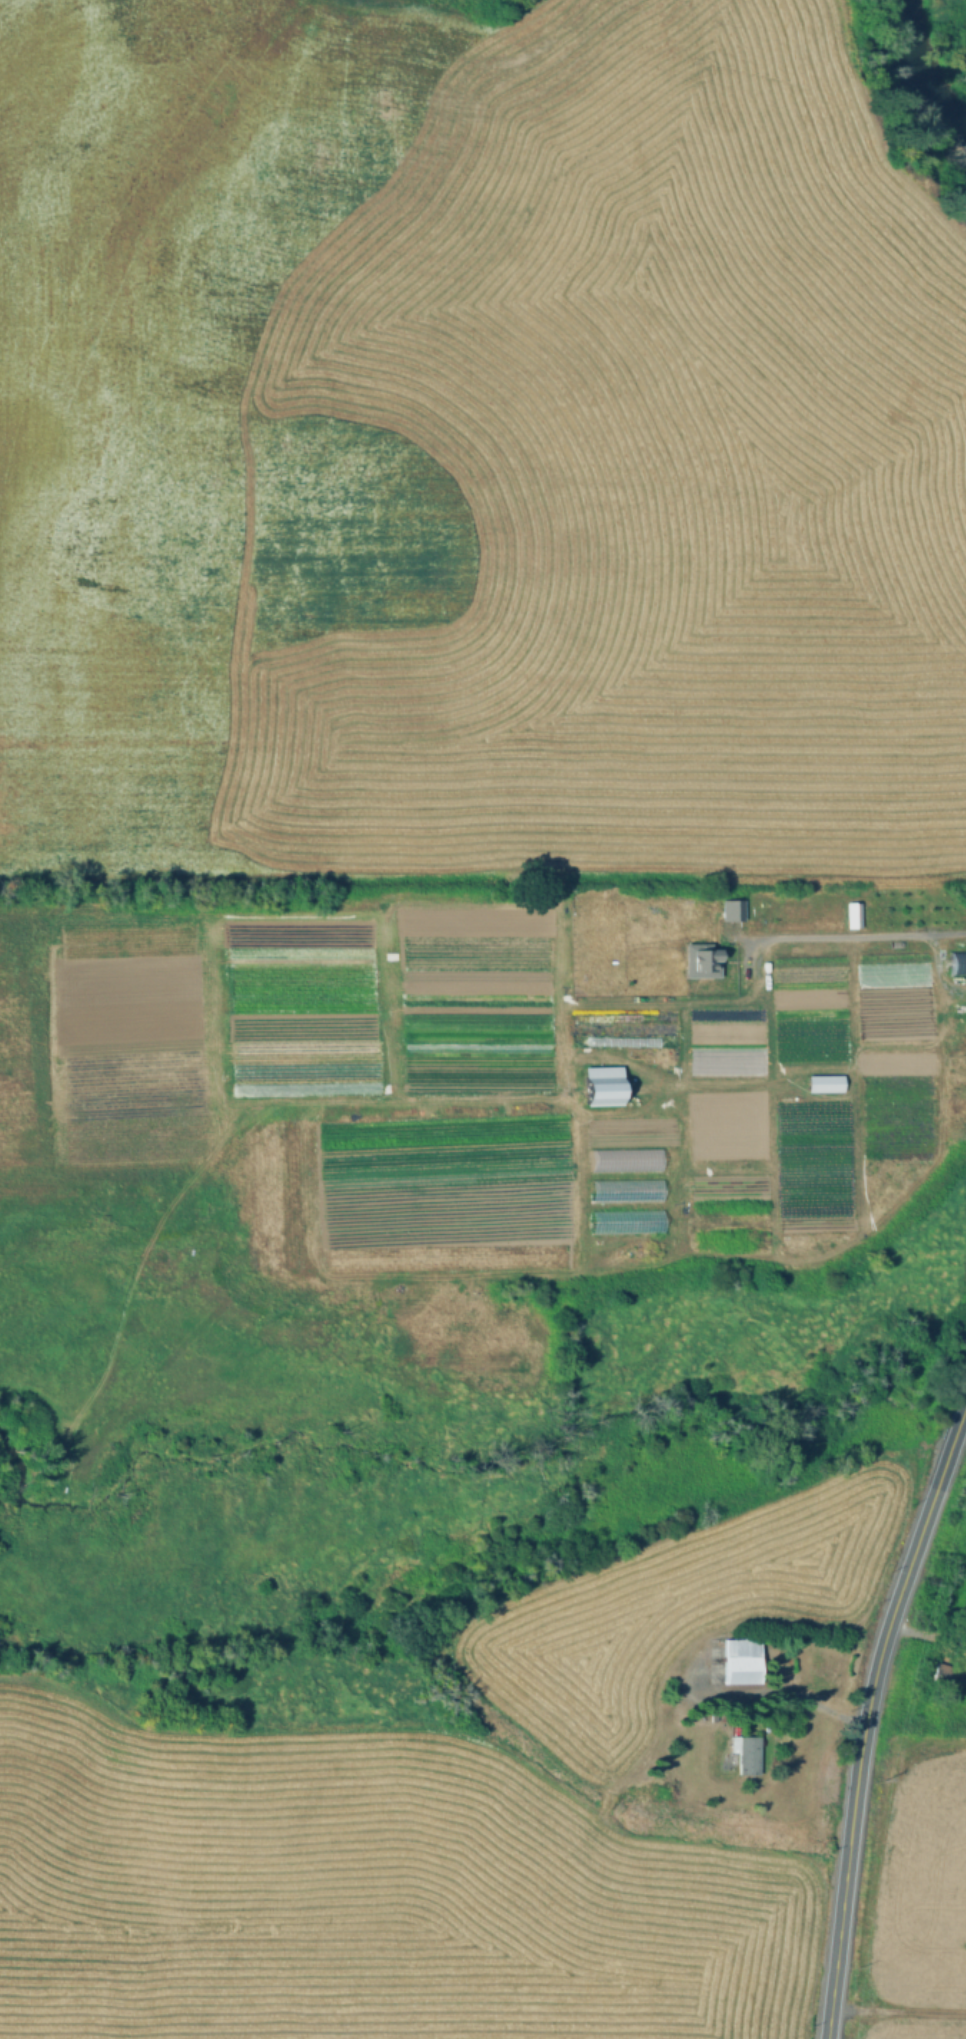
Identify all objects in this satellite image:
river: (949, 38)
crop: (148, 351)
crop: (601, 479)
building: (730, 908)
building: (851, 914)
road: (839, 933)
building: (699, 959)
building: (955, 959)
road: (938, 969)
crop: (88, 1062)
building: (822, 1082)
building: (600, 1084)
road: (502, 1090)
crop: (556, 1101)
building: (623, 1159)
building: (624, 1189)
building: (626, 1220)
road: (82, 1259)
road: (95, 1407)
road: (964, 1412)
road: (928, 1632)
building: (743, 1661)
building: (946, 1676)
road: (820, 1711)
road: (866, 1722)
building: (792, 1723)
building: (746, 1753)
crop: (920, 1884)
road: (898, 2010)
crop: (912, 2030)

